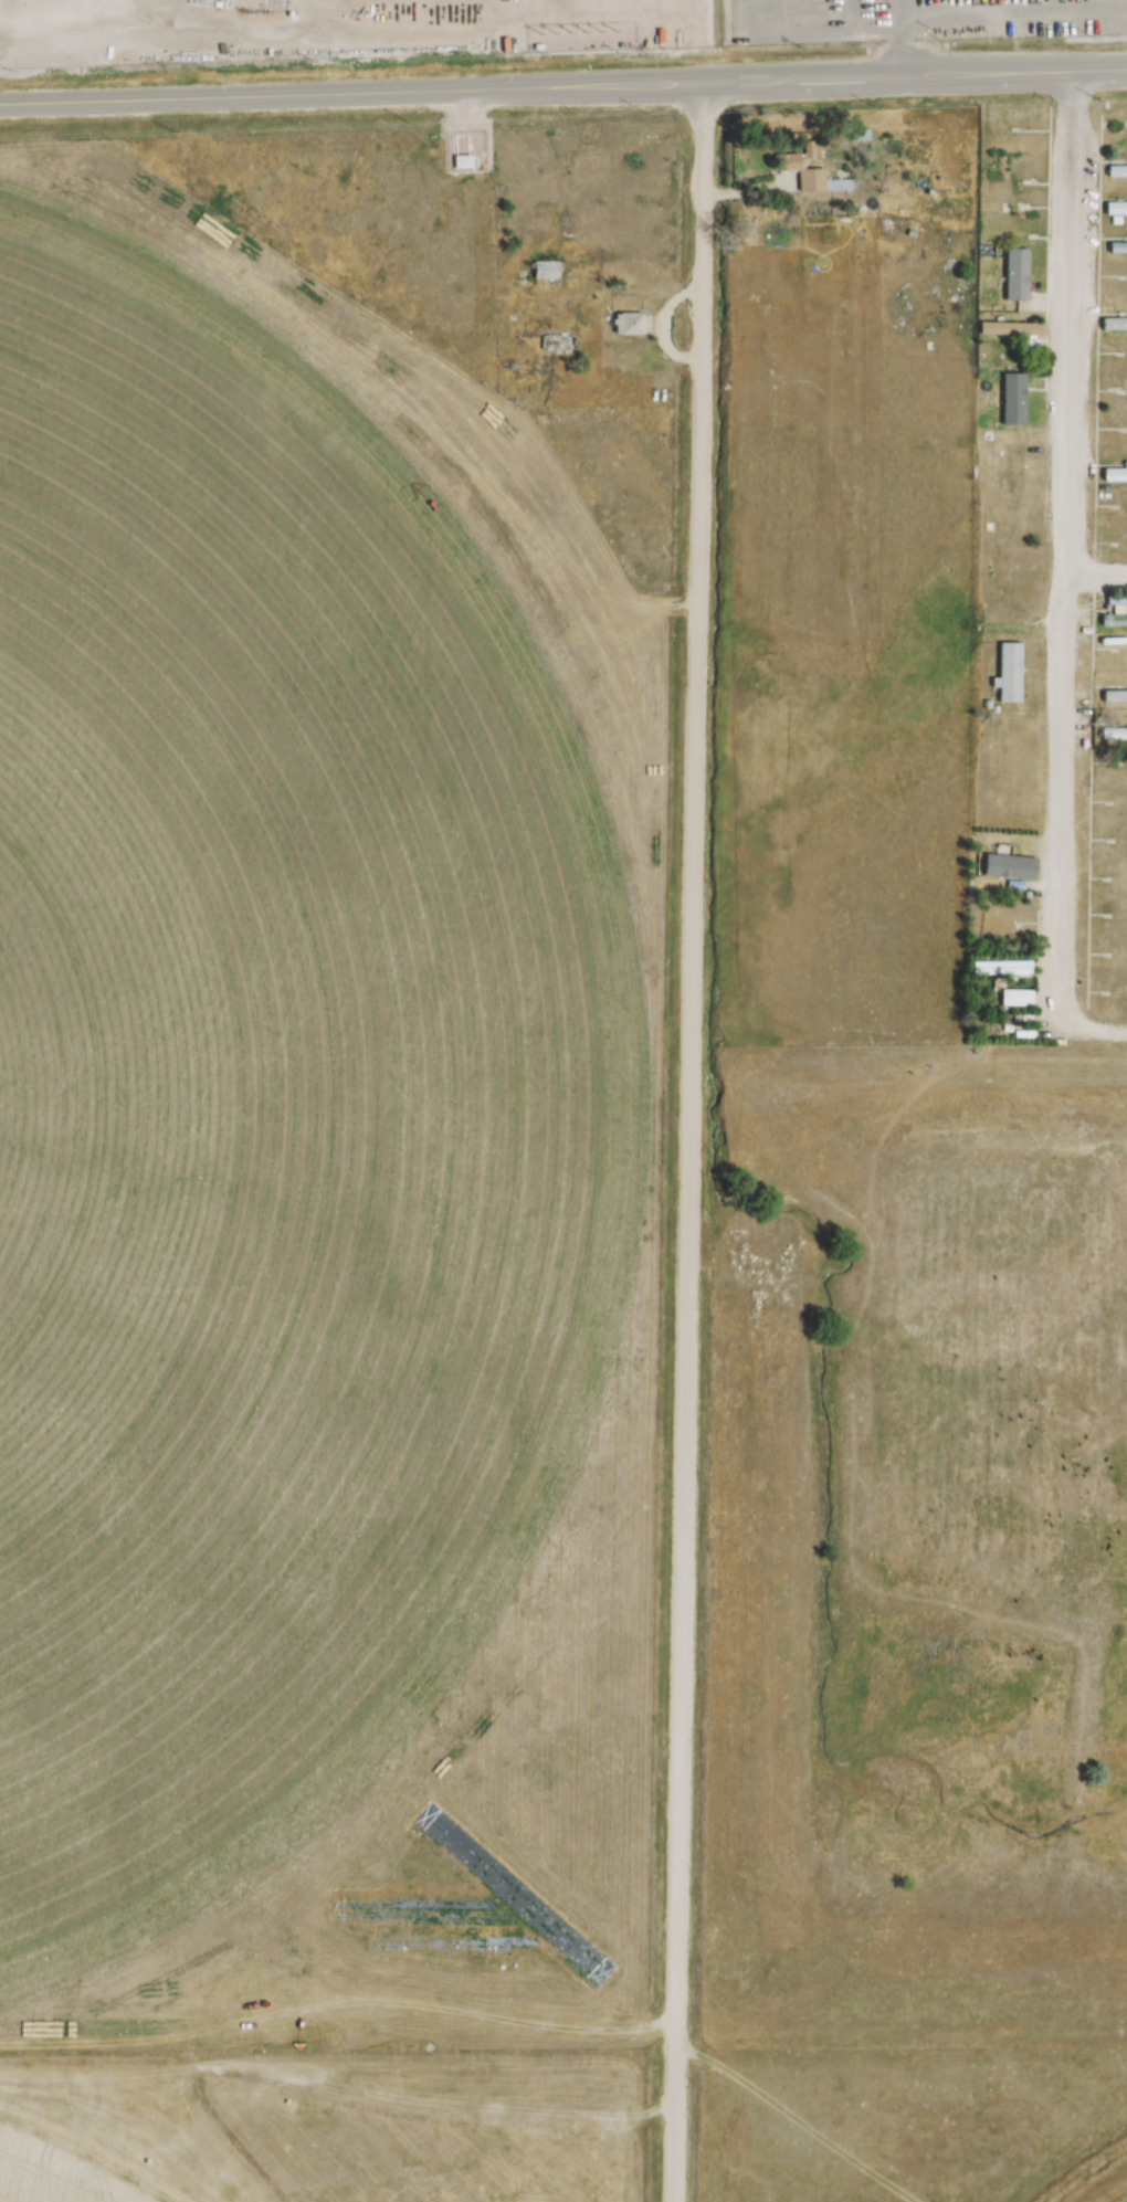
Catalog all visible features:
road: (905, 38)
building: (682, 39)
road: (563, 86)
building: (854, 136)
building: (892, 147)
building: (460, 152)
building: (1115, 171)
building: (808, 176)
building: (1014, 182)
building: (1114, 209)
building: (1125, 247)
building: (546, 270)
building: (1014, 275)
building: (628, 324)
building: (1113, 324)
building: (1007, 329)
building: (558, 344)
building: (1012, 399)
building: (1015, 464)
road: (1068, 549)
road: (1097, 578)
building: (1113, 621)
building: (1008, 673)
building: (1113, 696)
building: (1007, 867)
building: (999, 968)
building: (1013, 998)
road: (1093, 1028)
road: (689, 1142)

